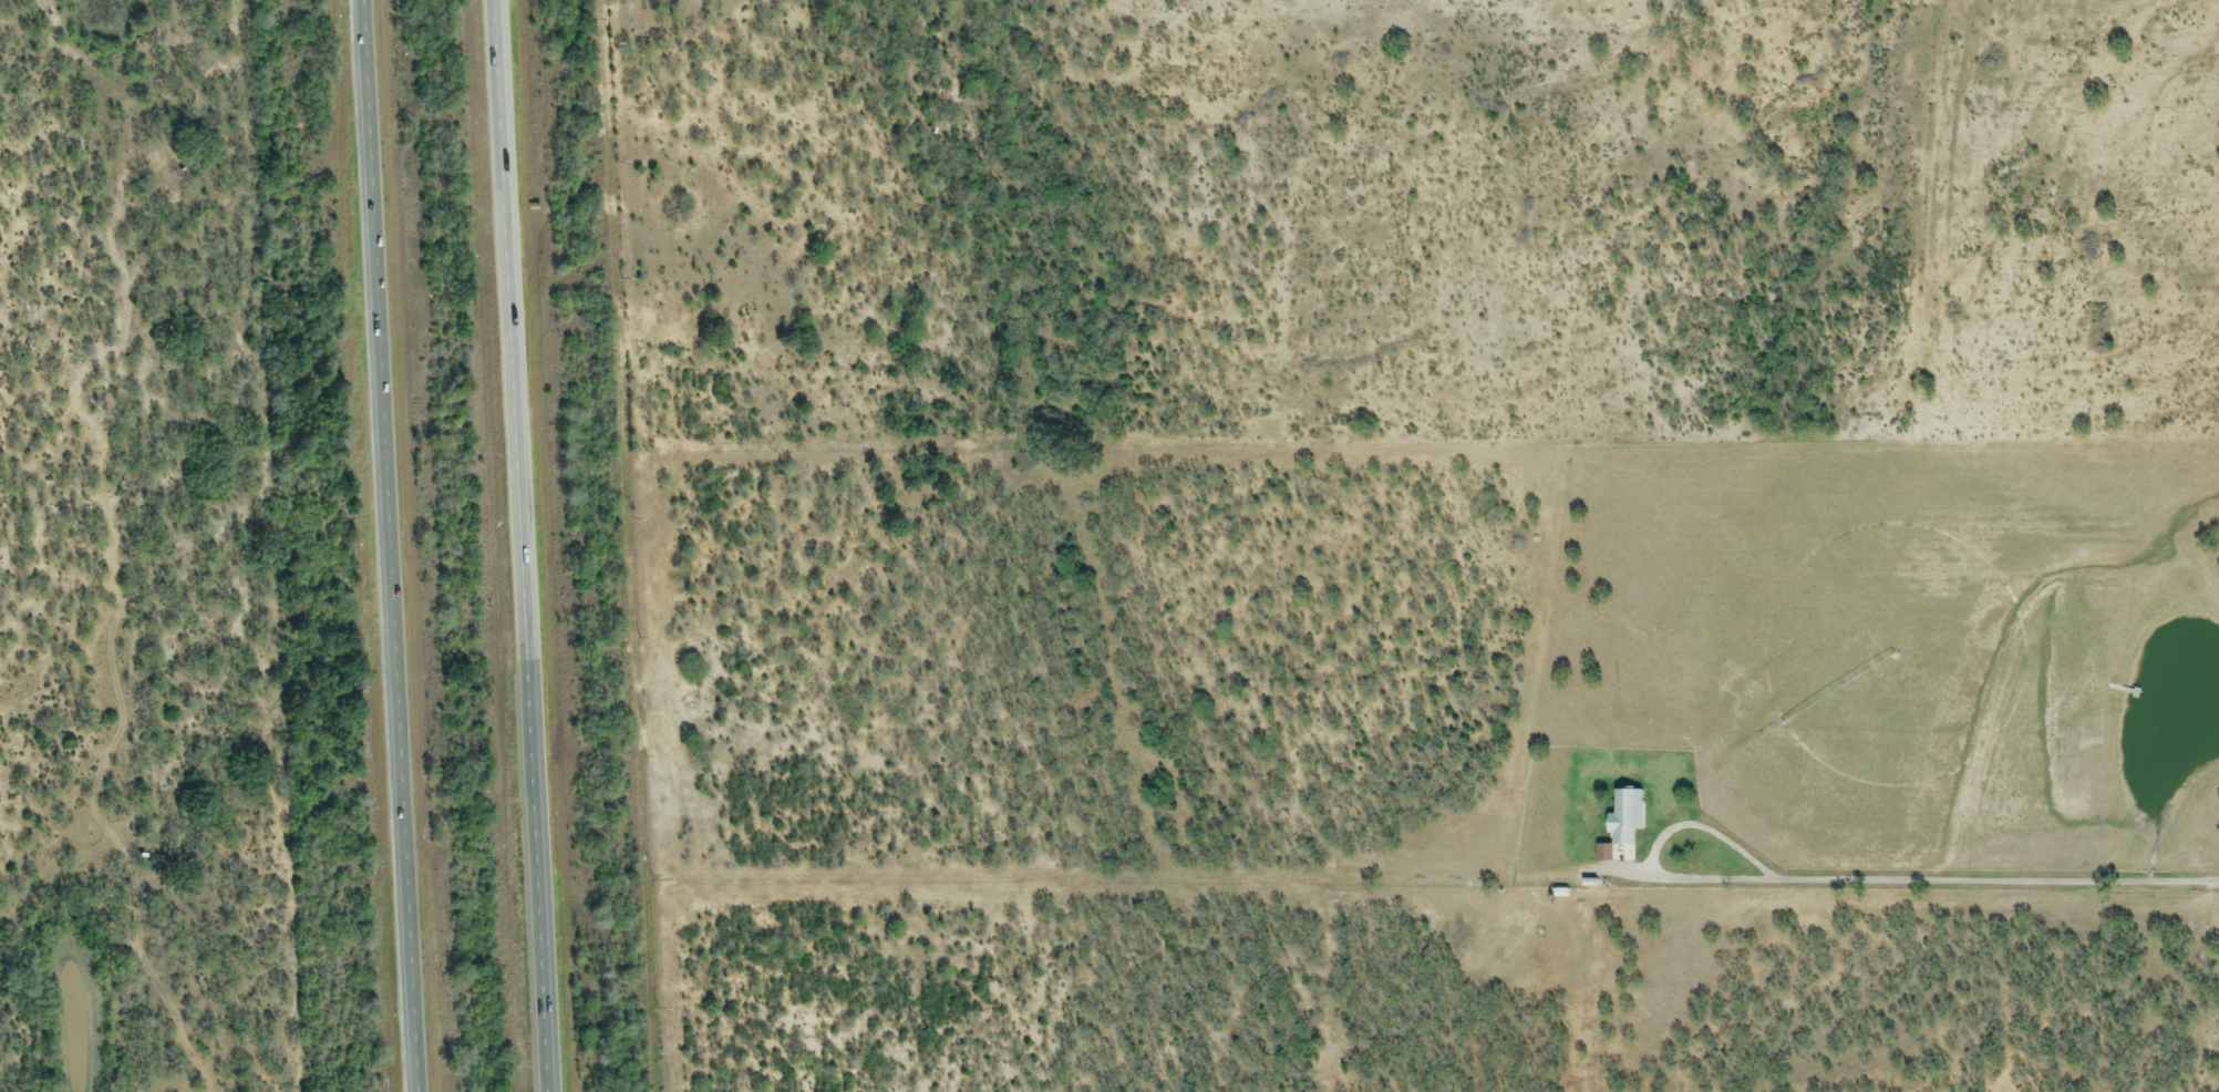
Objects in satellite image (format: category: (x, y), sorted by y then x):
road: (538, 545)
road: (391, 546)
building: (1623, 818)
road: (1656, 849)
road: (1999, 883)

